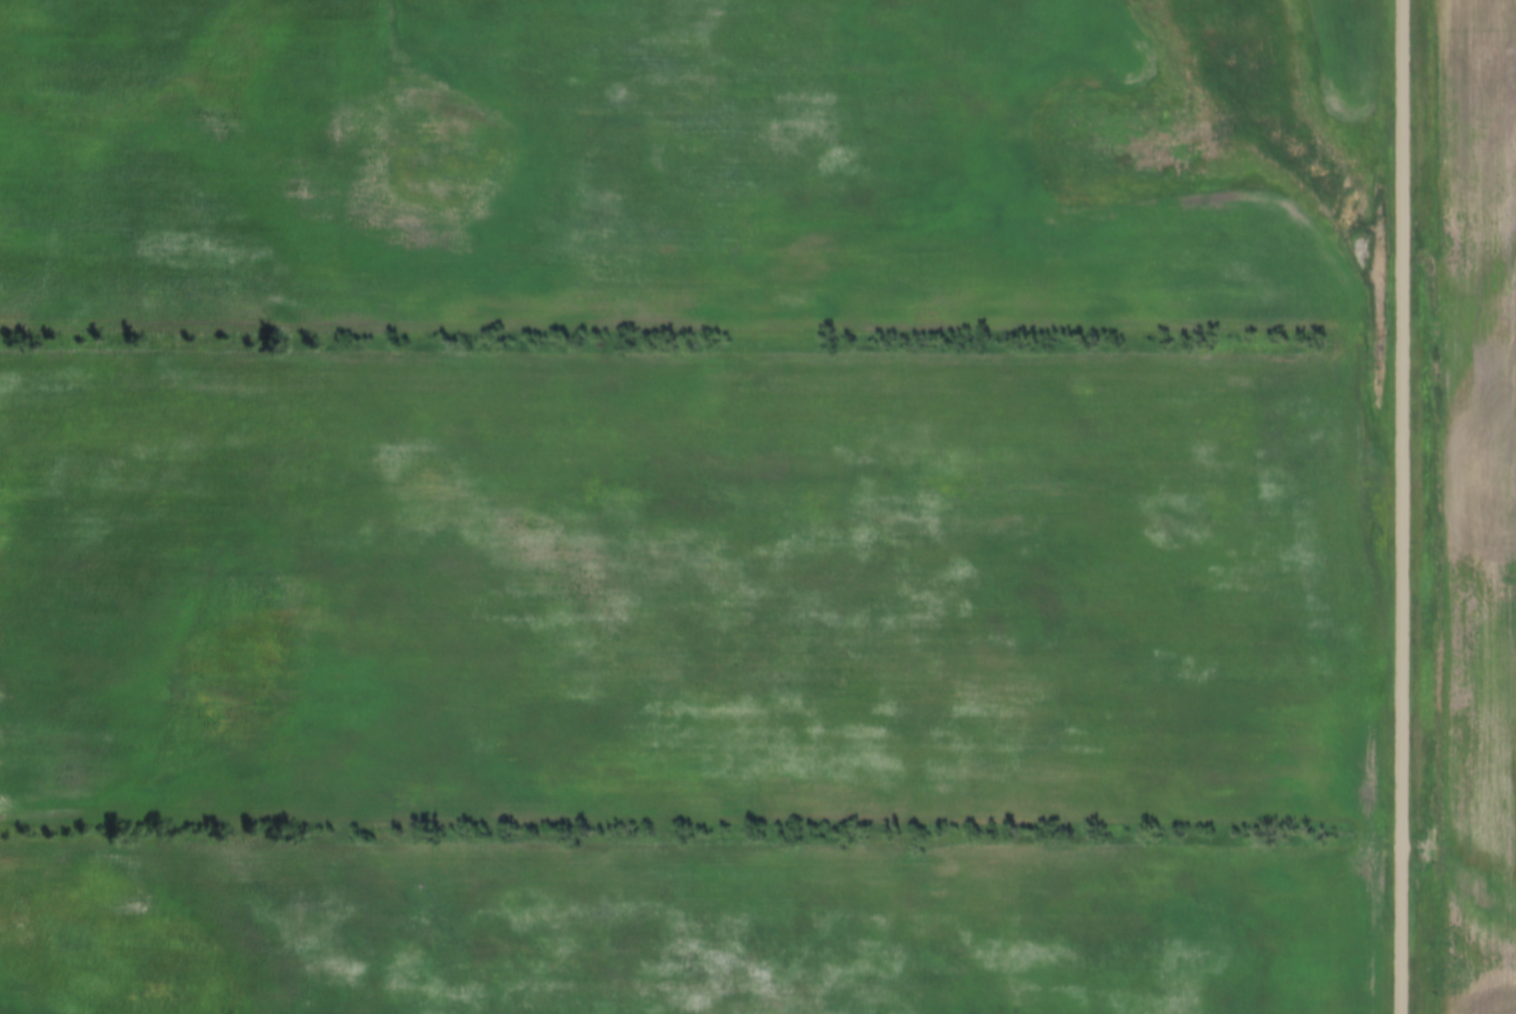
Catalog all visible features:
road: (1405, 507)

